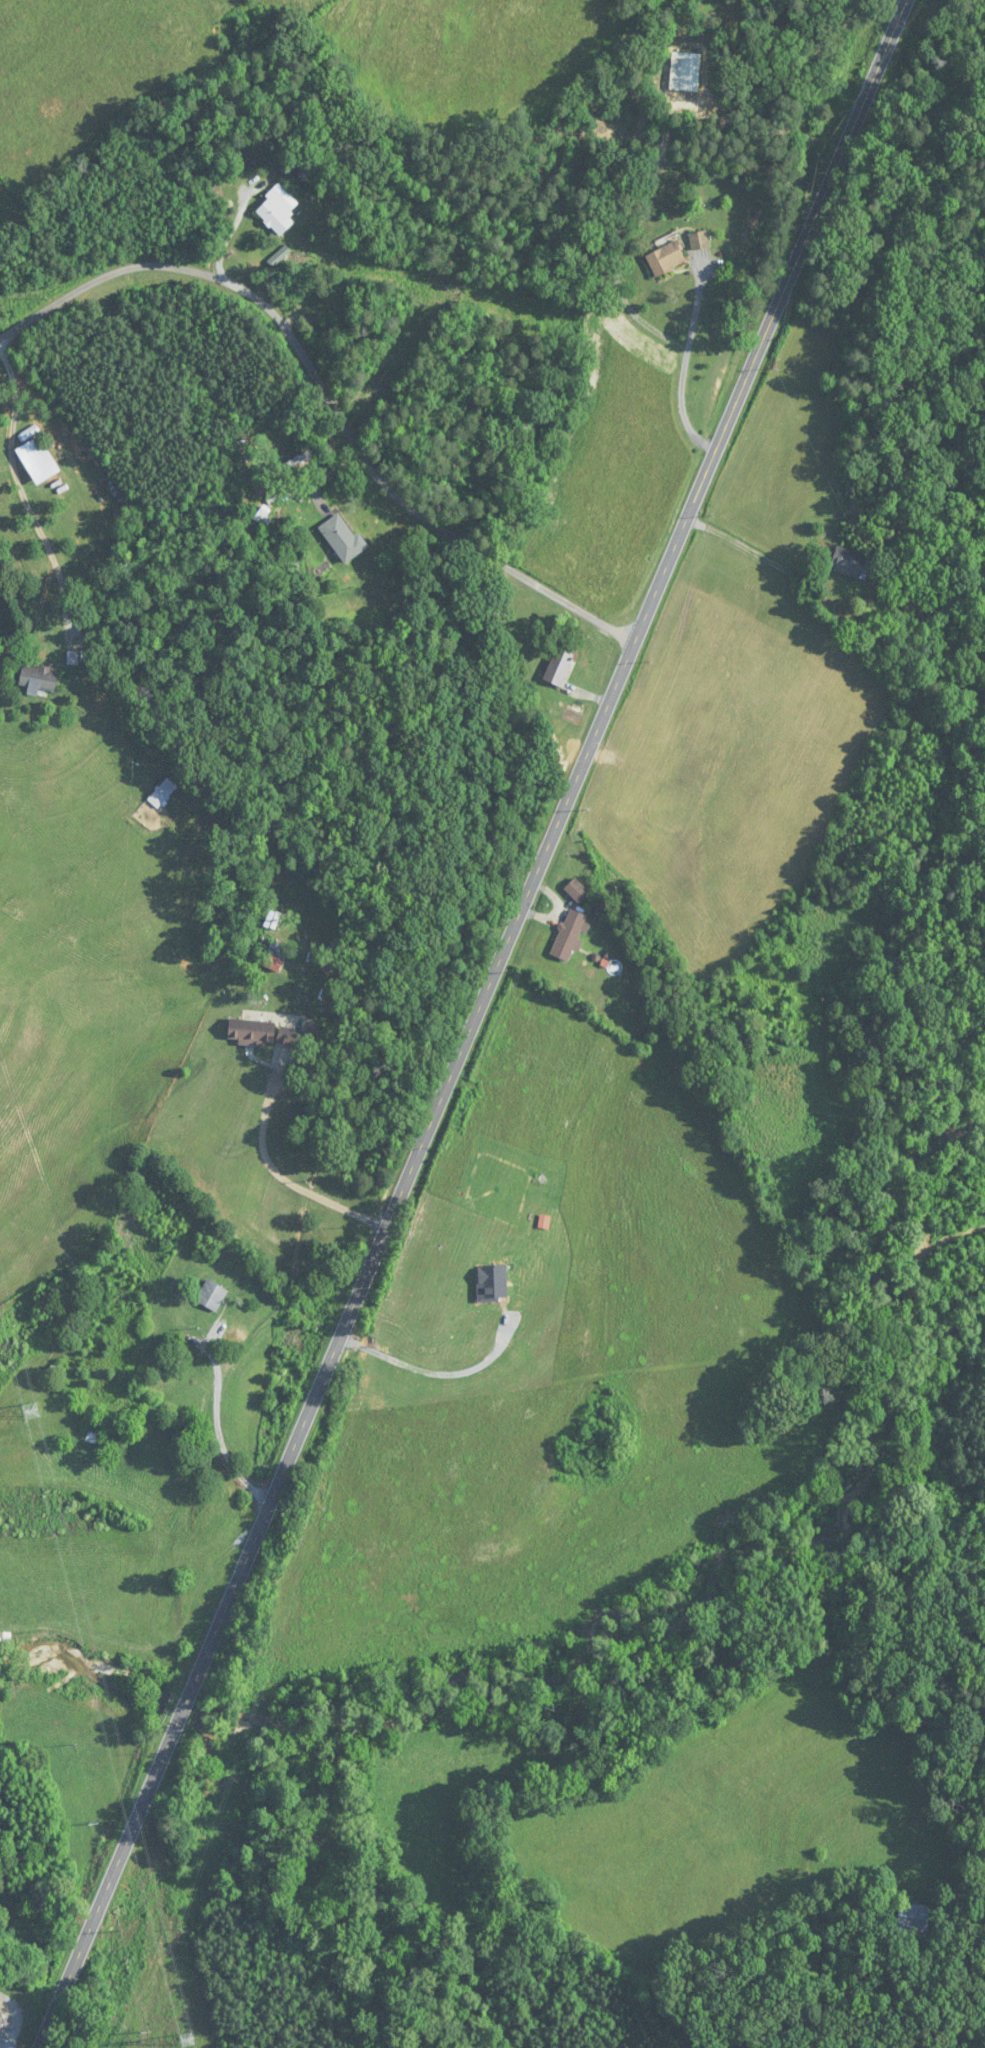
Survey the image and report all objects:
building: (689, 72)
building: (276, 212)
building: (699, 240)
building: (665, 259)
road: (685, 360)
road: (329, 386)
building: (37, 460)
road: (20, 486)
building: (342, 539)
road: (739, 542)
building: (850, 563)
building: (559, 663)
building: (37, 679)
building: (162, 794)
building: (576, 890)
building: (272, 920)
building: (569, 936)
building: (272, 957)
road: (472, 1024)
building: (250, 1032)
building: (289, 1038)
road: (279, 1176)
building: (211, 1296)
road: (433, 1373)
power tower: (29, 1409)
road: (219, 1432)
building: (101, 1434)
building: (202, 1461)
road: (47, 1897)
building: (912, 1921)
power tower: (185, 2042)

